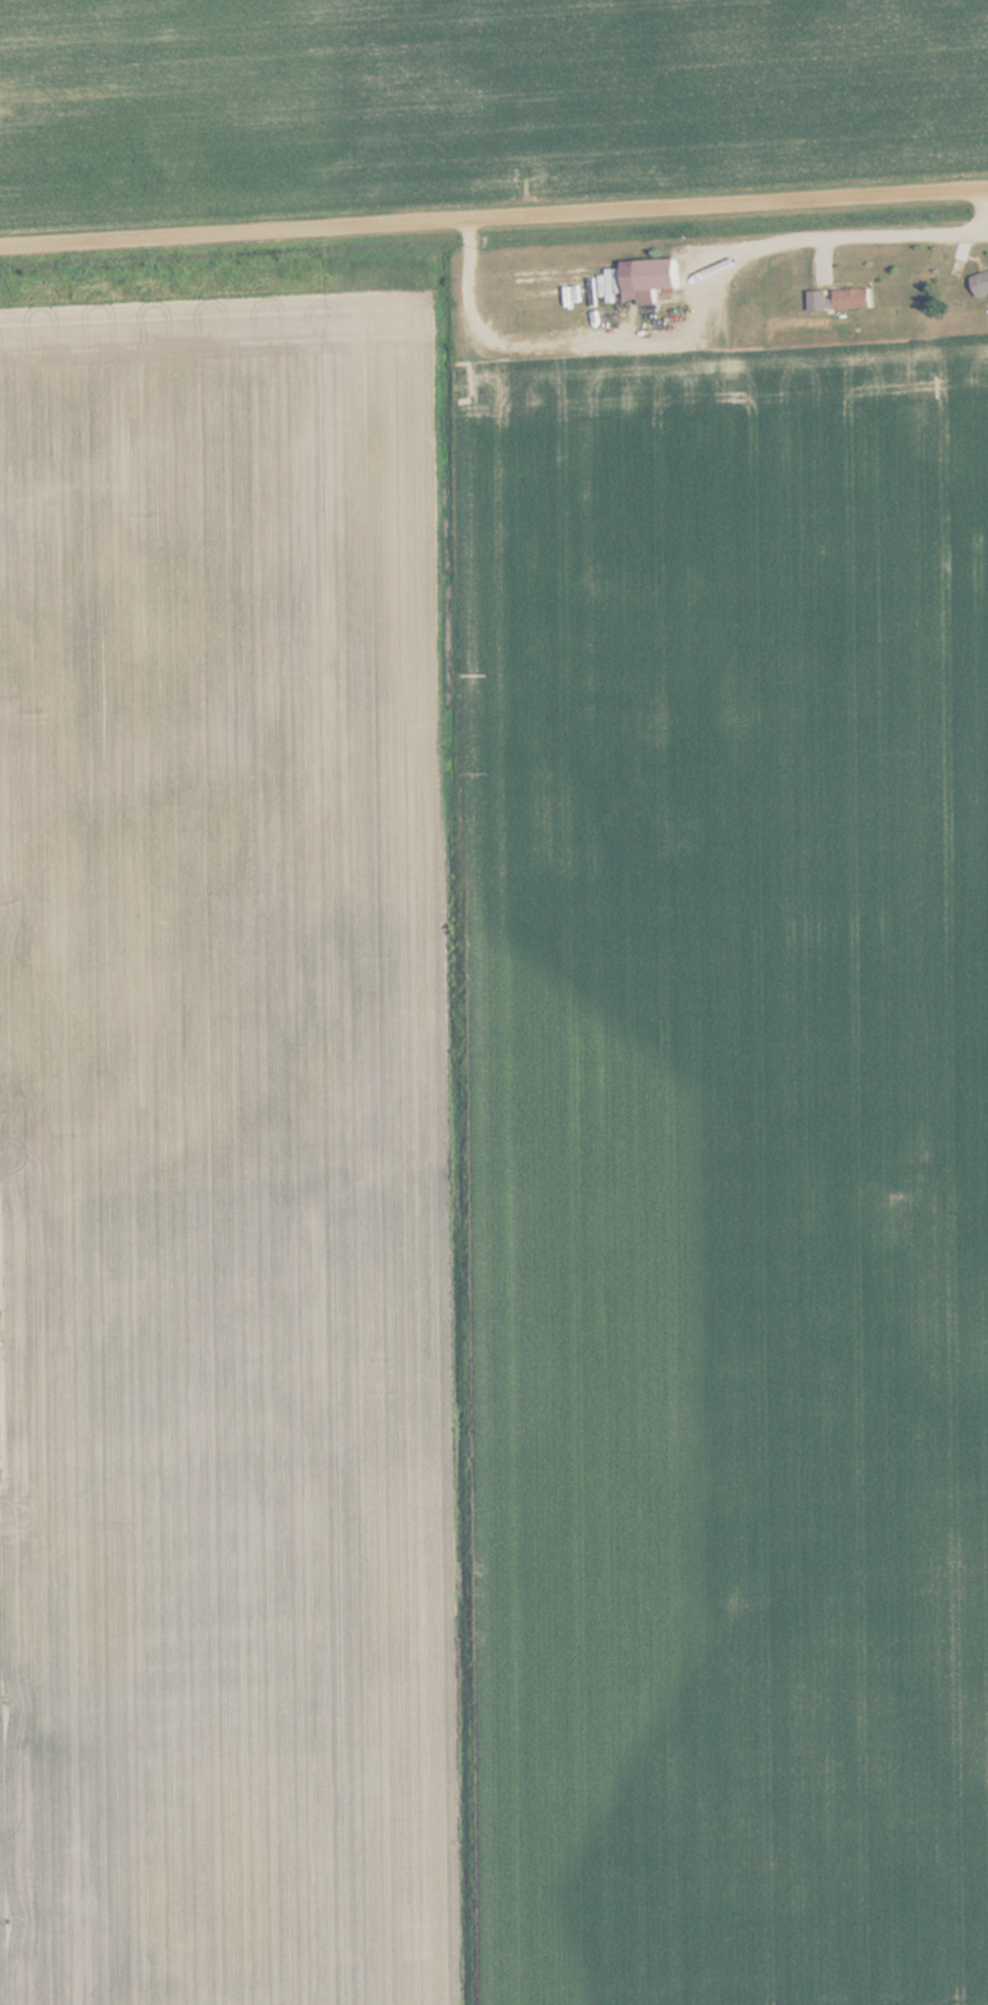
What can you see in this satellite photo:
road: (494, 217)
building: (661, 278)
building: (549, 282)
building: (982, 284)
building: (857, 298)
building: (822, 300)

